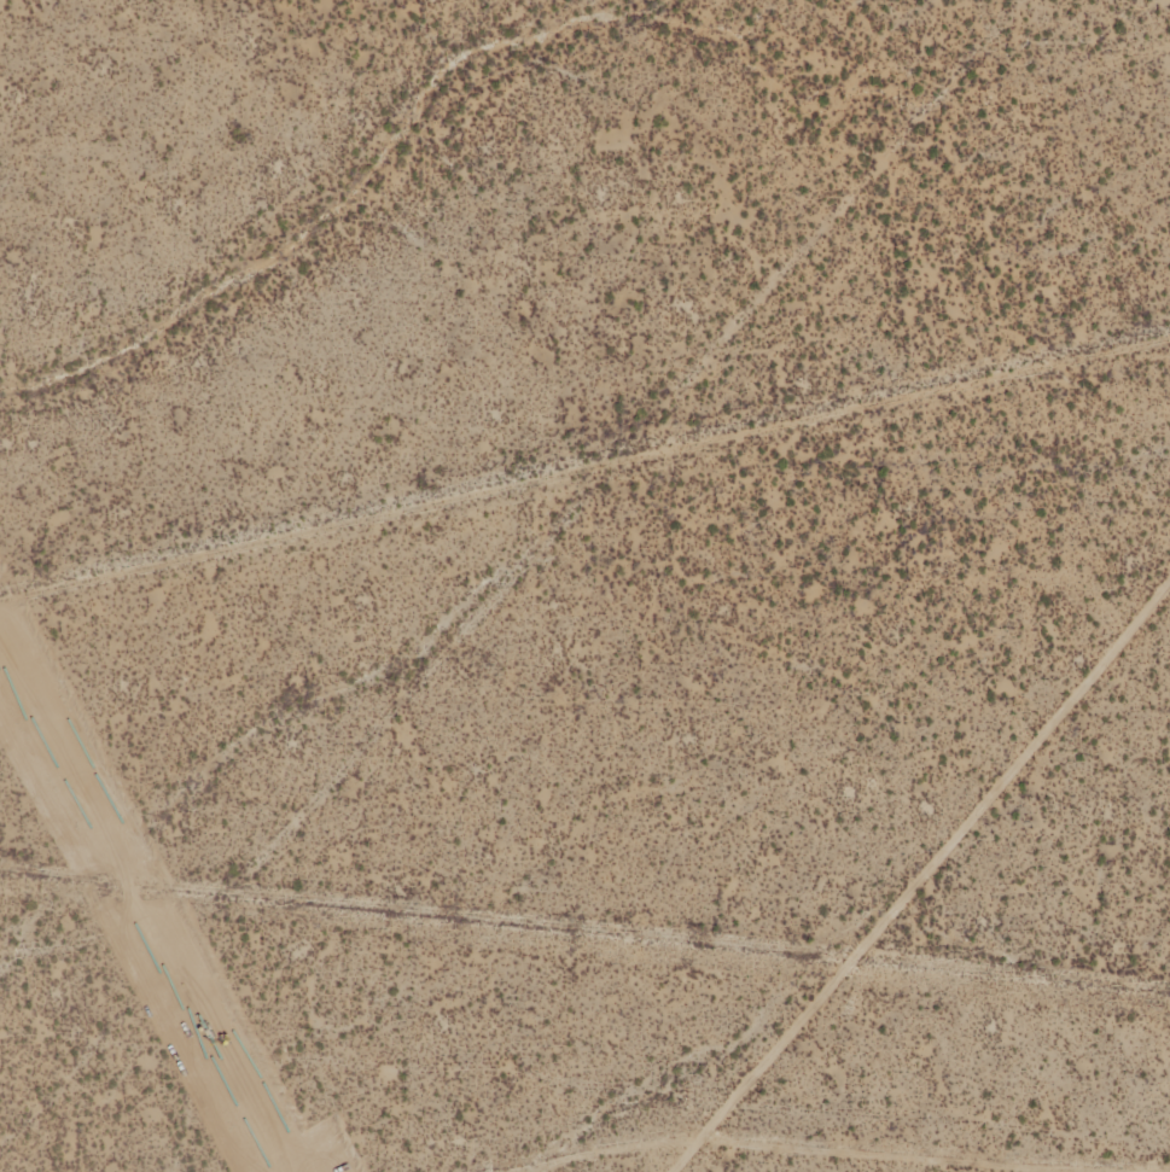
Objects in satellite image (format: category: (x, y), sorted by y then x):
road: (516, 497)
road: (584, 1060)

